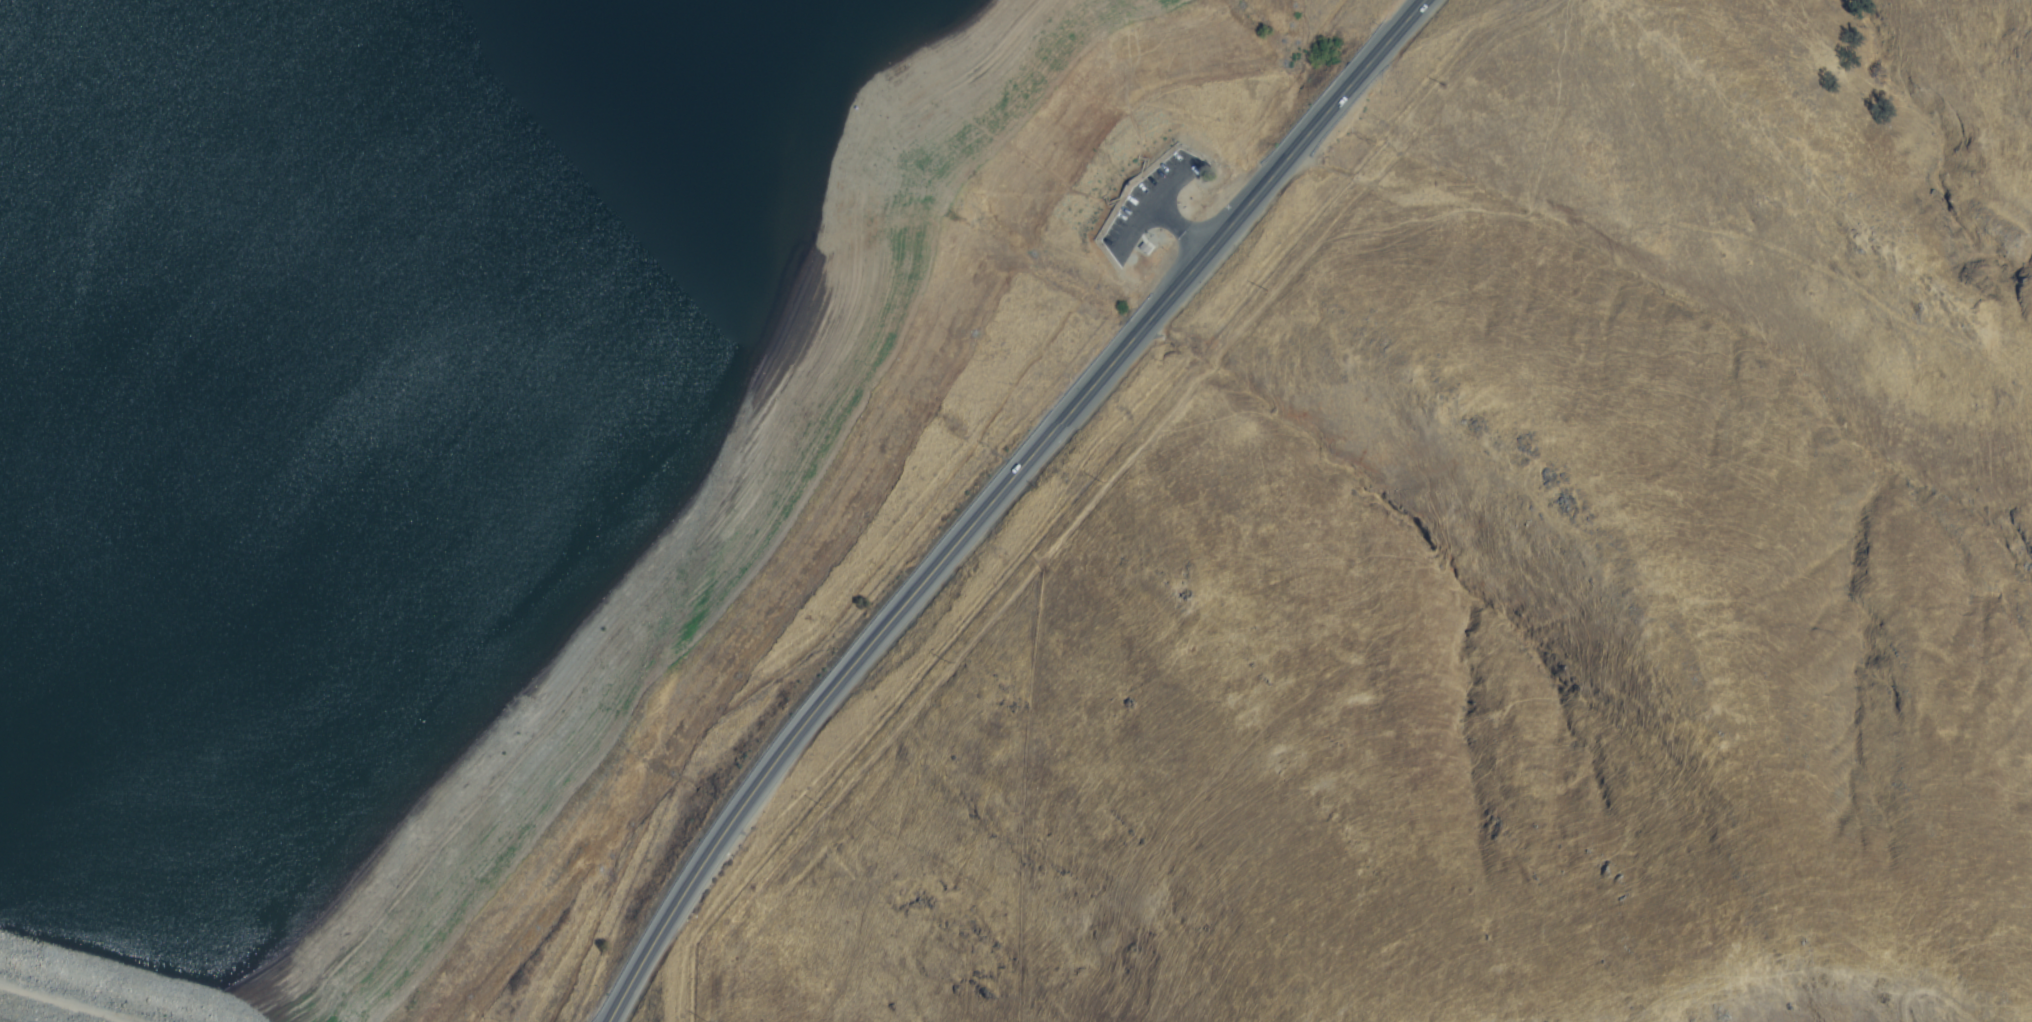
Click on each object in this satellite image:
road: (998, 497)
dam: (564, 957)
dam: (32, 1012)

